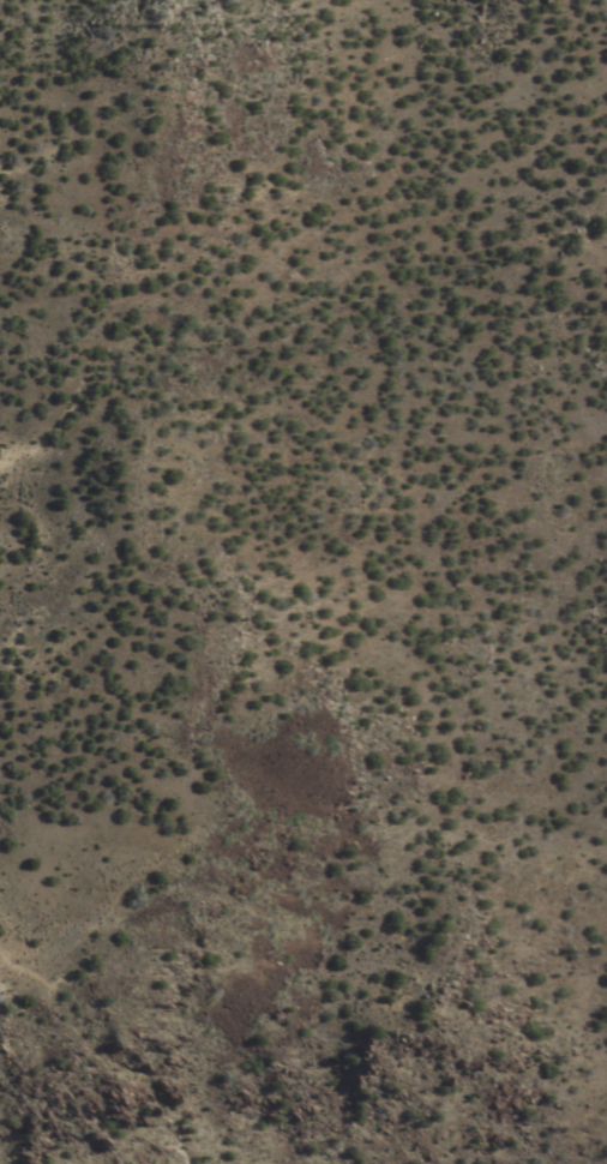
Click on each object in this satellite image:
road: (329, 613)
road: (12, 955)

